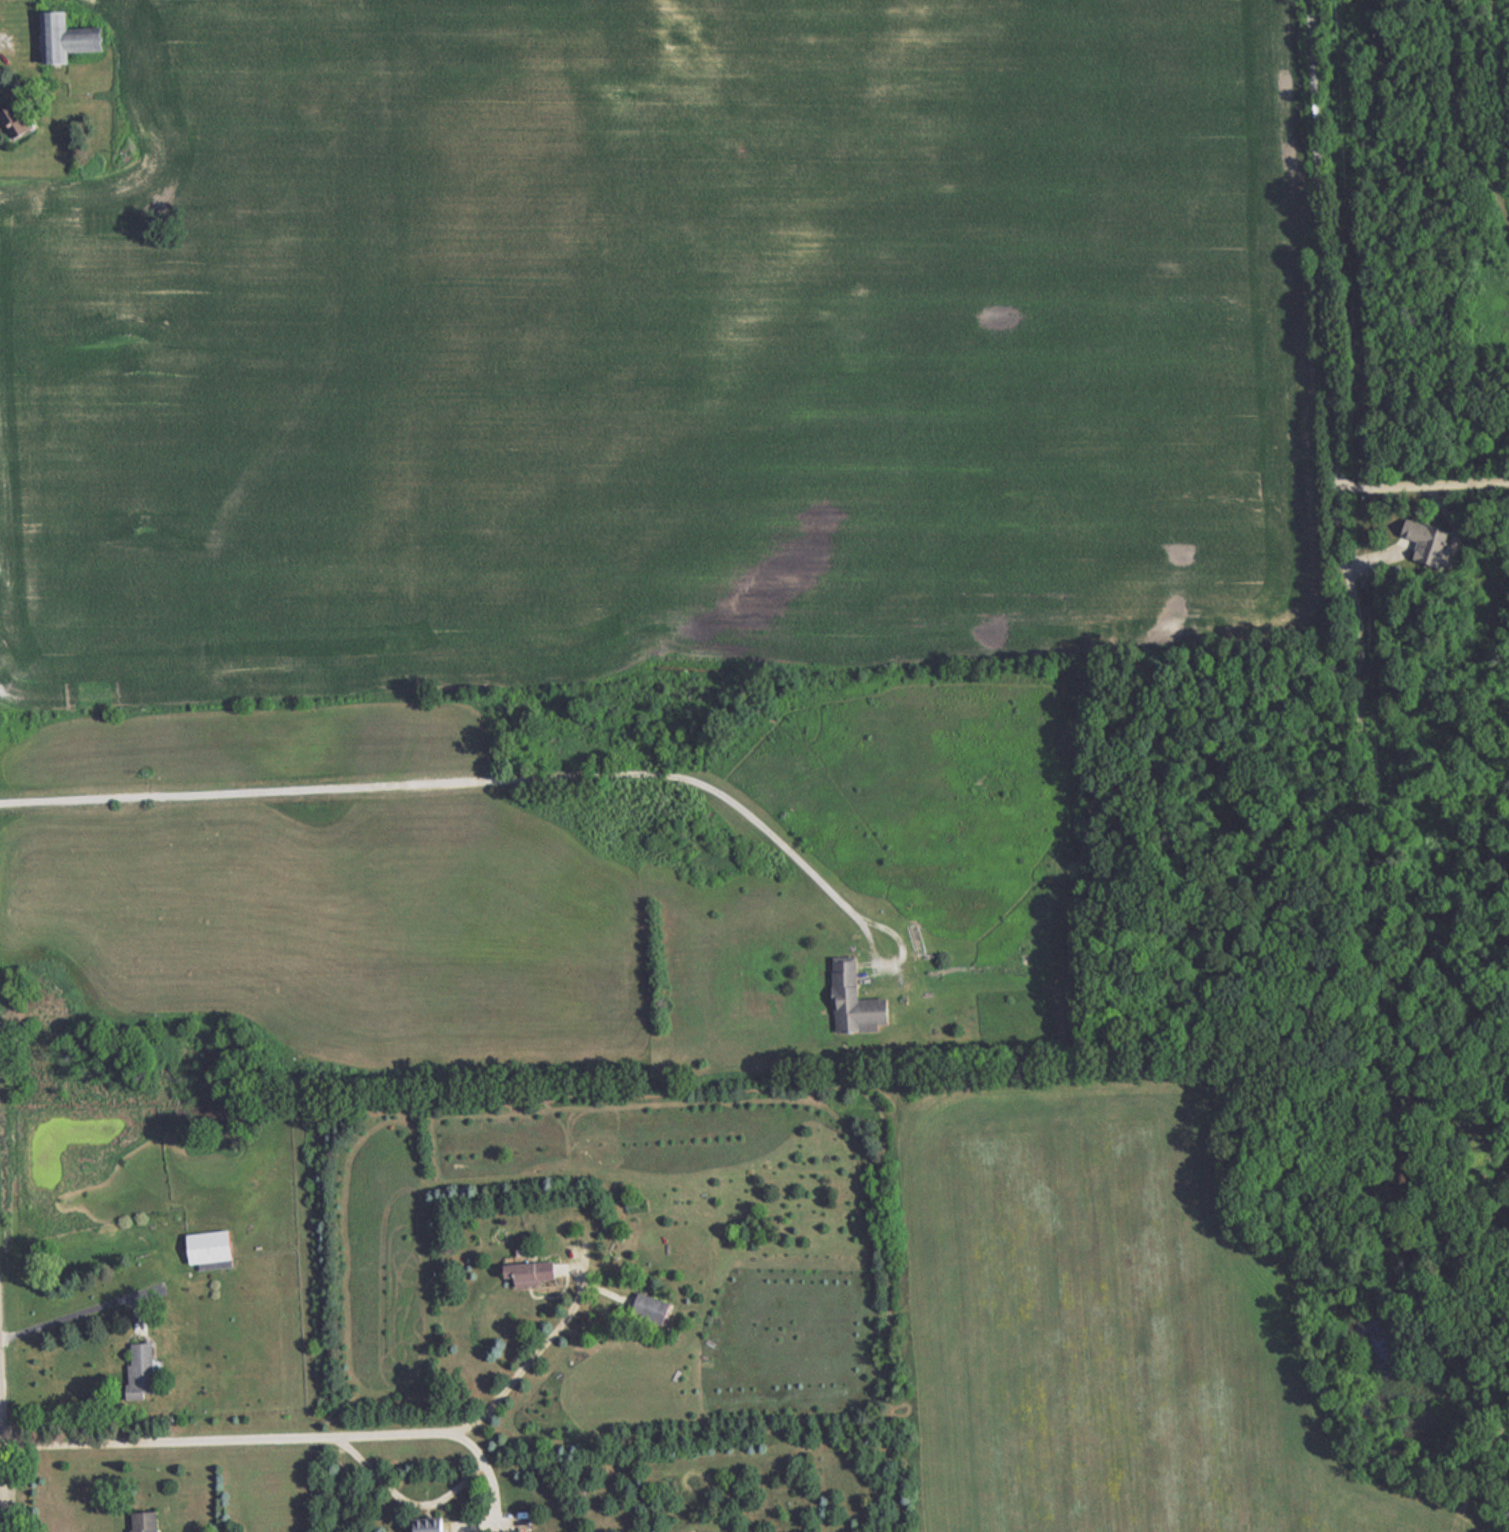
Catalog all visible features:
building: (73, 40)
building: (19, 122)
road: (1325, 321)
road: (1361, 735)
road: (463, 780)
building: (857, 999)
building: (212, 1246)
building: (535, 1271)
building: (652, 1308)
road: (67, 1318)
road: (534, 1358)
building: (142, 1370)
road: (229, 1440)
road: (1, 1487)
road: (425, 1504)
building: (147, 1521)
building: (430, 1526)

